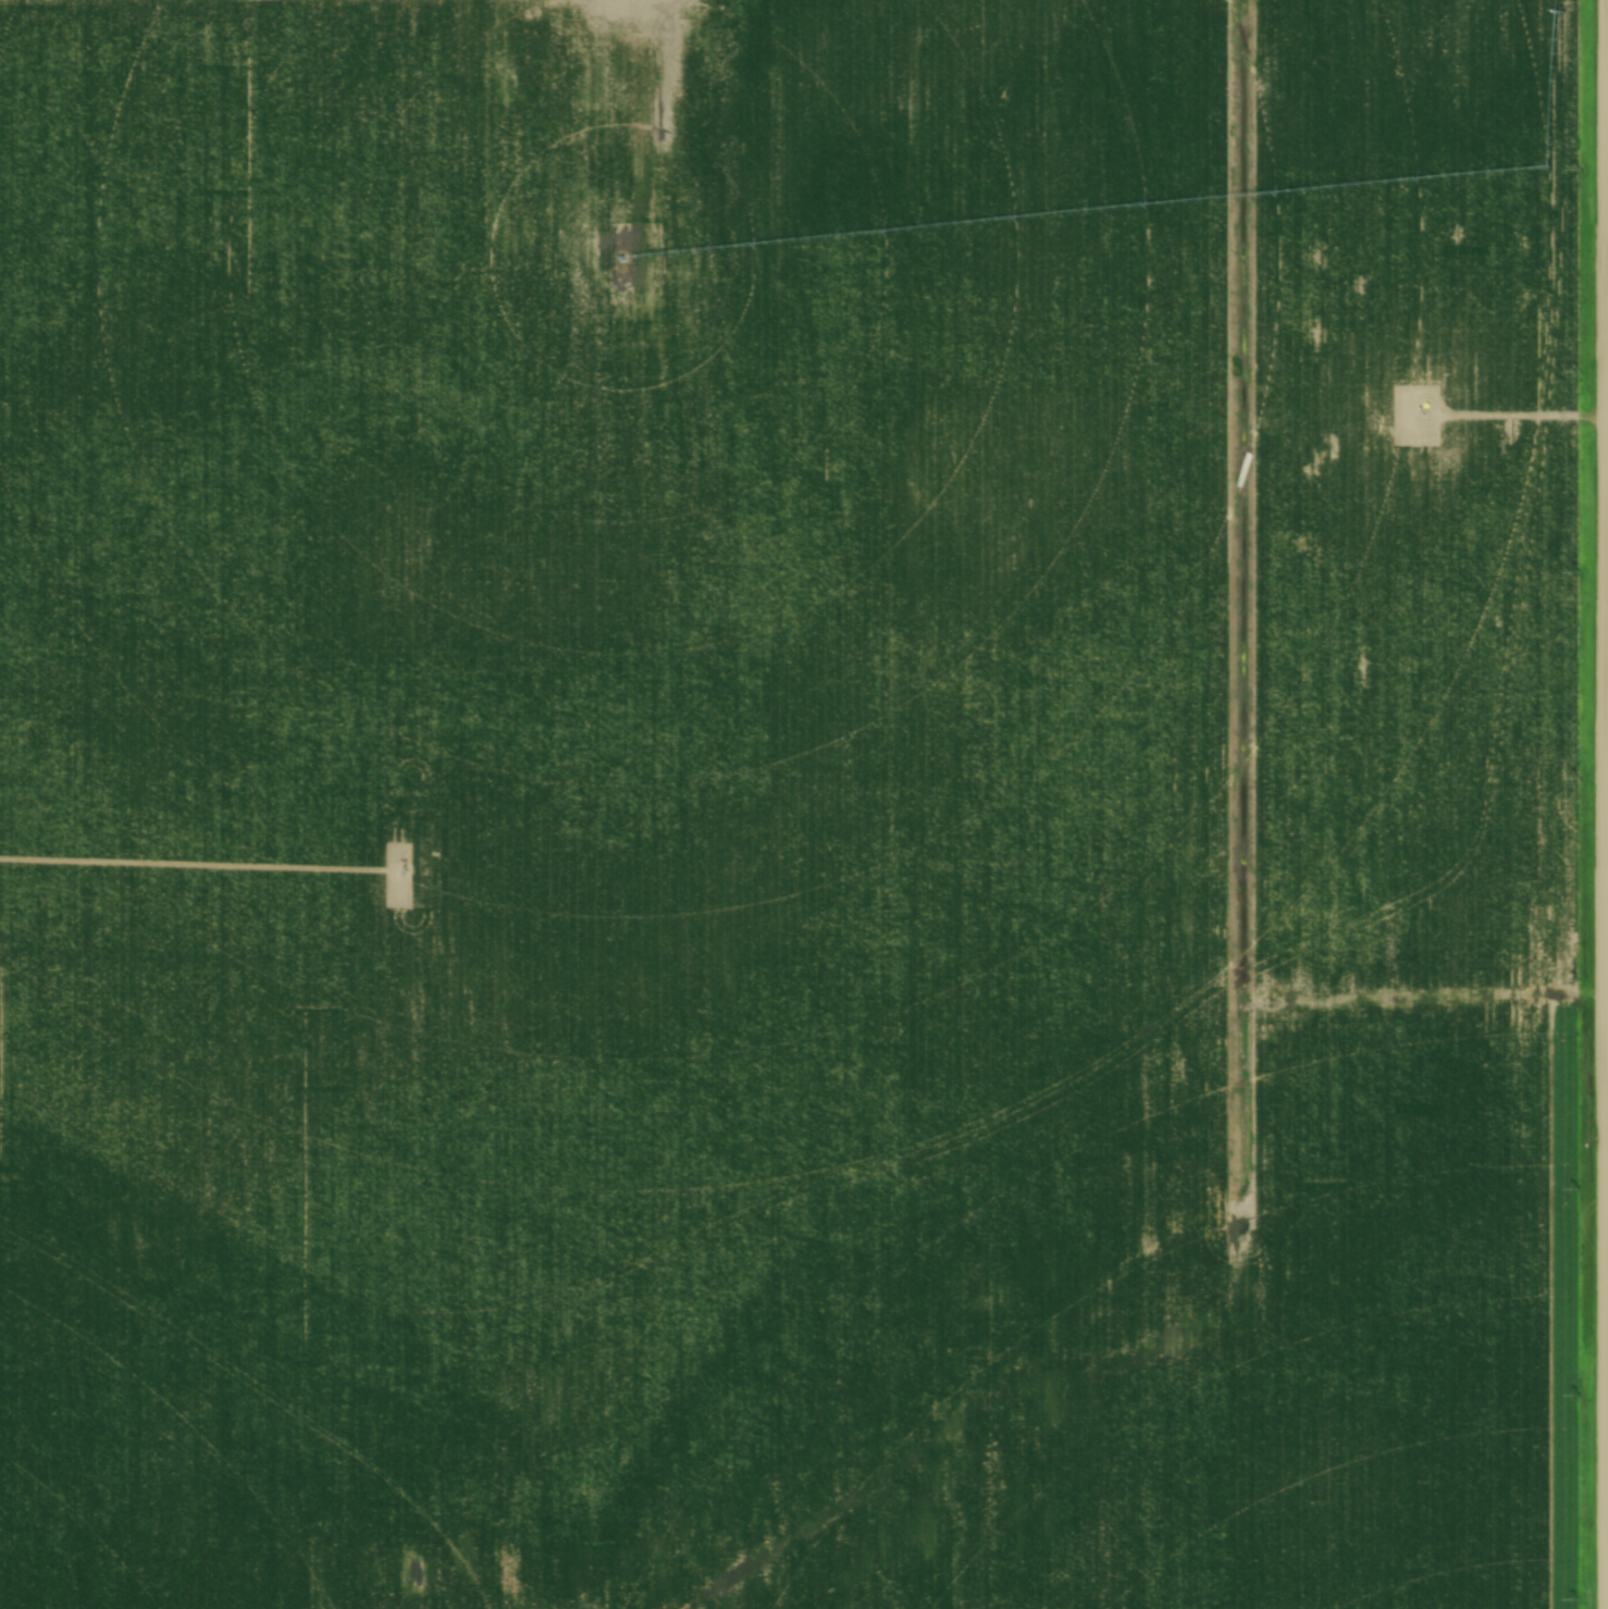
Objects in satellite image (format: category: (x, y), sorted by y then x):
road: (1603, 804)

